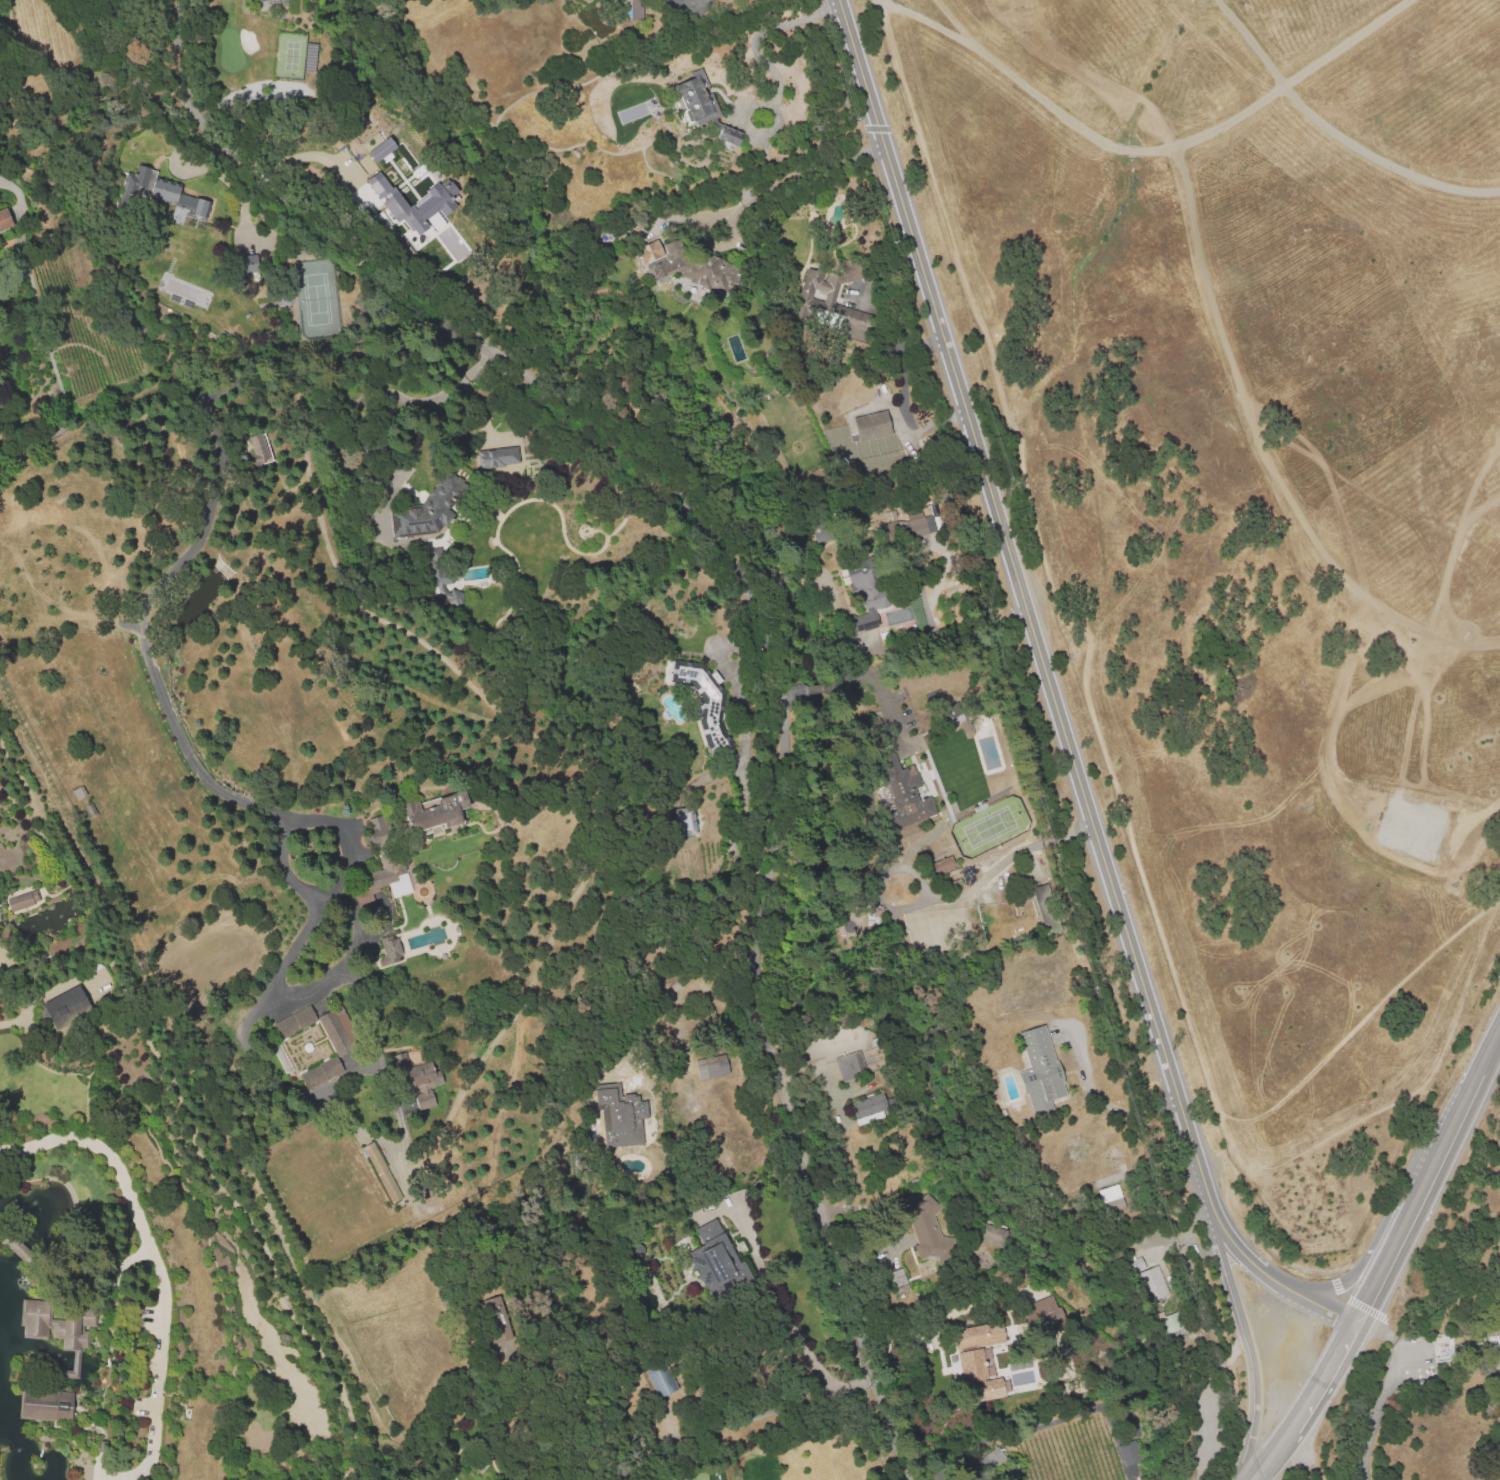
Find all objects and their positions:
building: (270, 3)
building: (633, 9)
road: (936, 30)
road: (967, 30)
building: (310, 58)
road: (771, 72)
building: (698, 103)
road: (1204, 136)
building: (729, 141)
building: (380, 149)
road: (306, 156)
building: (373, 183)
building: (743, 195)
road: (756, 196)
building: (186, 202)
building: (422, 205)
building: (5, 218)
building: (250, 265)
building: (695, 269)
building: (848, 271)
building: (811, 288)
building: (97, 333)
road: (895, 339)
building: (105, 344)
road: (390, 395)
building: (872, 426)
building: (258, 447)
building: (499, 458)
building: (428, 509)
building: (889, 518)
building: (916, 527)
building: (822, 533)
road: (189, 554)
building: (439, 575)
building: (865, 589)
road: (1026, 617)
road: (757, 624)
road: (816, 688)
road: (790, 691)
road: (880, 692)
building: (712, 710)
building: (950, 710)
building: (905, 792)
building: (441, 811)
building: (689, 823)
road: (736, 825)
building: (389, 861)
building: (943, 865)
road: (944, 899)
building: (22, 902)
road: (313, 907)
building: (1046, 907)
building: (393, 950)
road: (693, 963)
building: (68, 1007)
building: (295, 1023)
building: (339, 1031)
building: (850, 1066)
building: (712, 1068)
building: (1041, 1069)
building: (321, 1072)
building: (429, 1077)
road: (1475, 1094)
road: (1105, 1102)
building: (431, 1103)
building: (869, 1107)
building: (623, 1117)
building: (384, 1173)
building: (1110, 1197)
road: (869, 1213)
building: (926, 1229)
road: (1403, 1234)
building: (992, 1236)
road: (1380, 1239)
building: (22, 1252)
road: (153, 1256)
building: (715, 1257)
road: (1251, 1263)
building: (1135, 1266)
building: (1149, 1286)
road: (1320, 1305)
building: (1043, 1314)
building: (89, 1323)
building: (1167, 1323)
road: (794, 1331)
building: (55, 1332)
building: (495, 1336)
building: (1450, 1350)
road: (1253, 1355)
building: (979, 1362)
road: (1328, 1369)
building: (660, 1376)
building: (1420, 1376)
building: (1011, 1388)
road: (1383, 1388)
building: (47, 1410)
road: (1276, 1448)
building: (1128, 1452)
road: (1307, 1454)
building: (992, 1458)
road: (1317, 1477)

